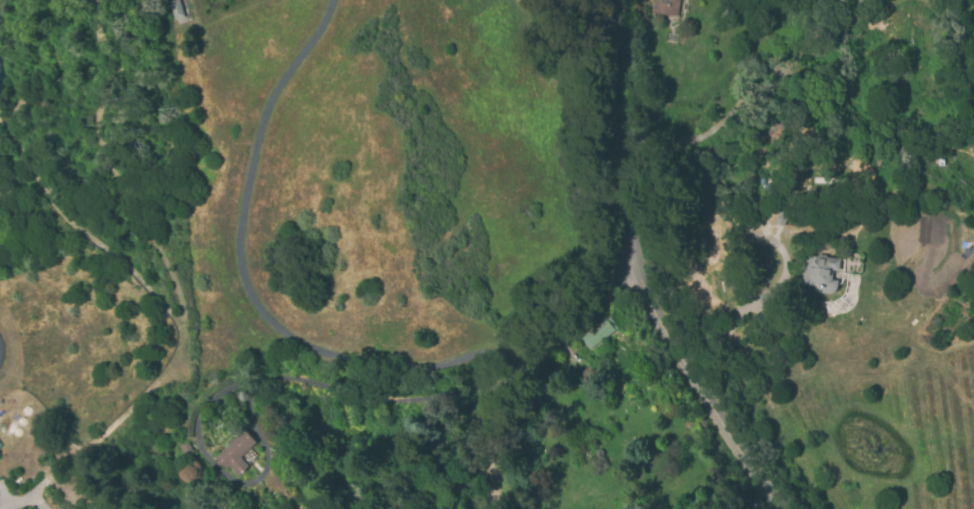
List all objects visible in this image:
building: (665, 7)
building: (177, 9)
building: (819, 272)
road: (630, 276)
building: (597, 333)
road: (284, 337)
building: (588, 376)
building: (0, 446)
building: (185, 449)
building: (236, 453)
road: (28, 505)

